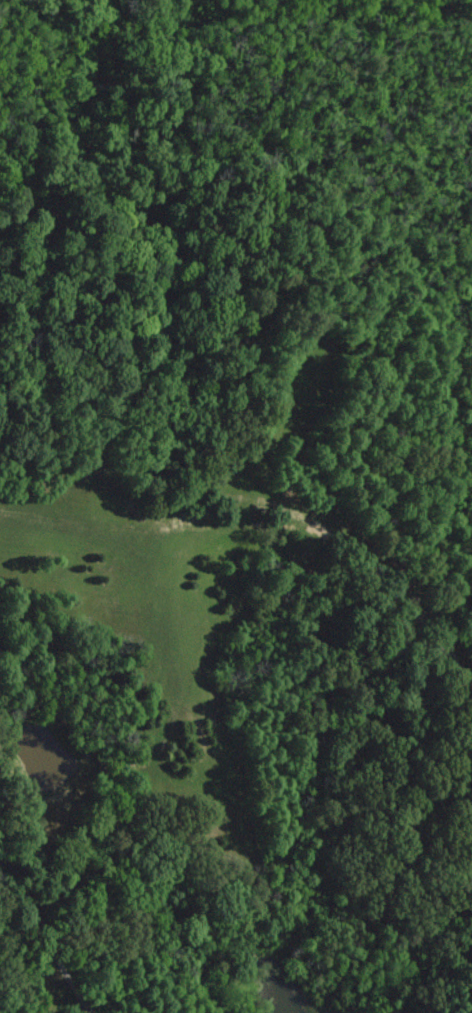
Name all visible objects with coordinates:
road: (44, 949)

